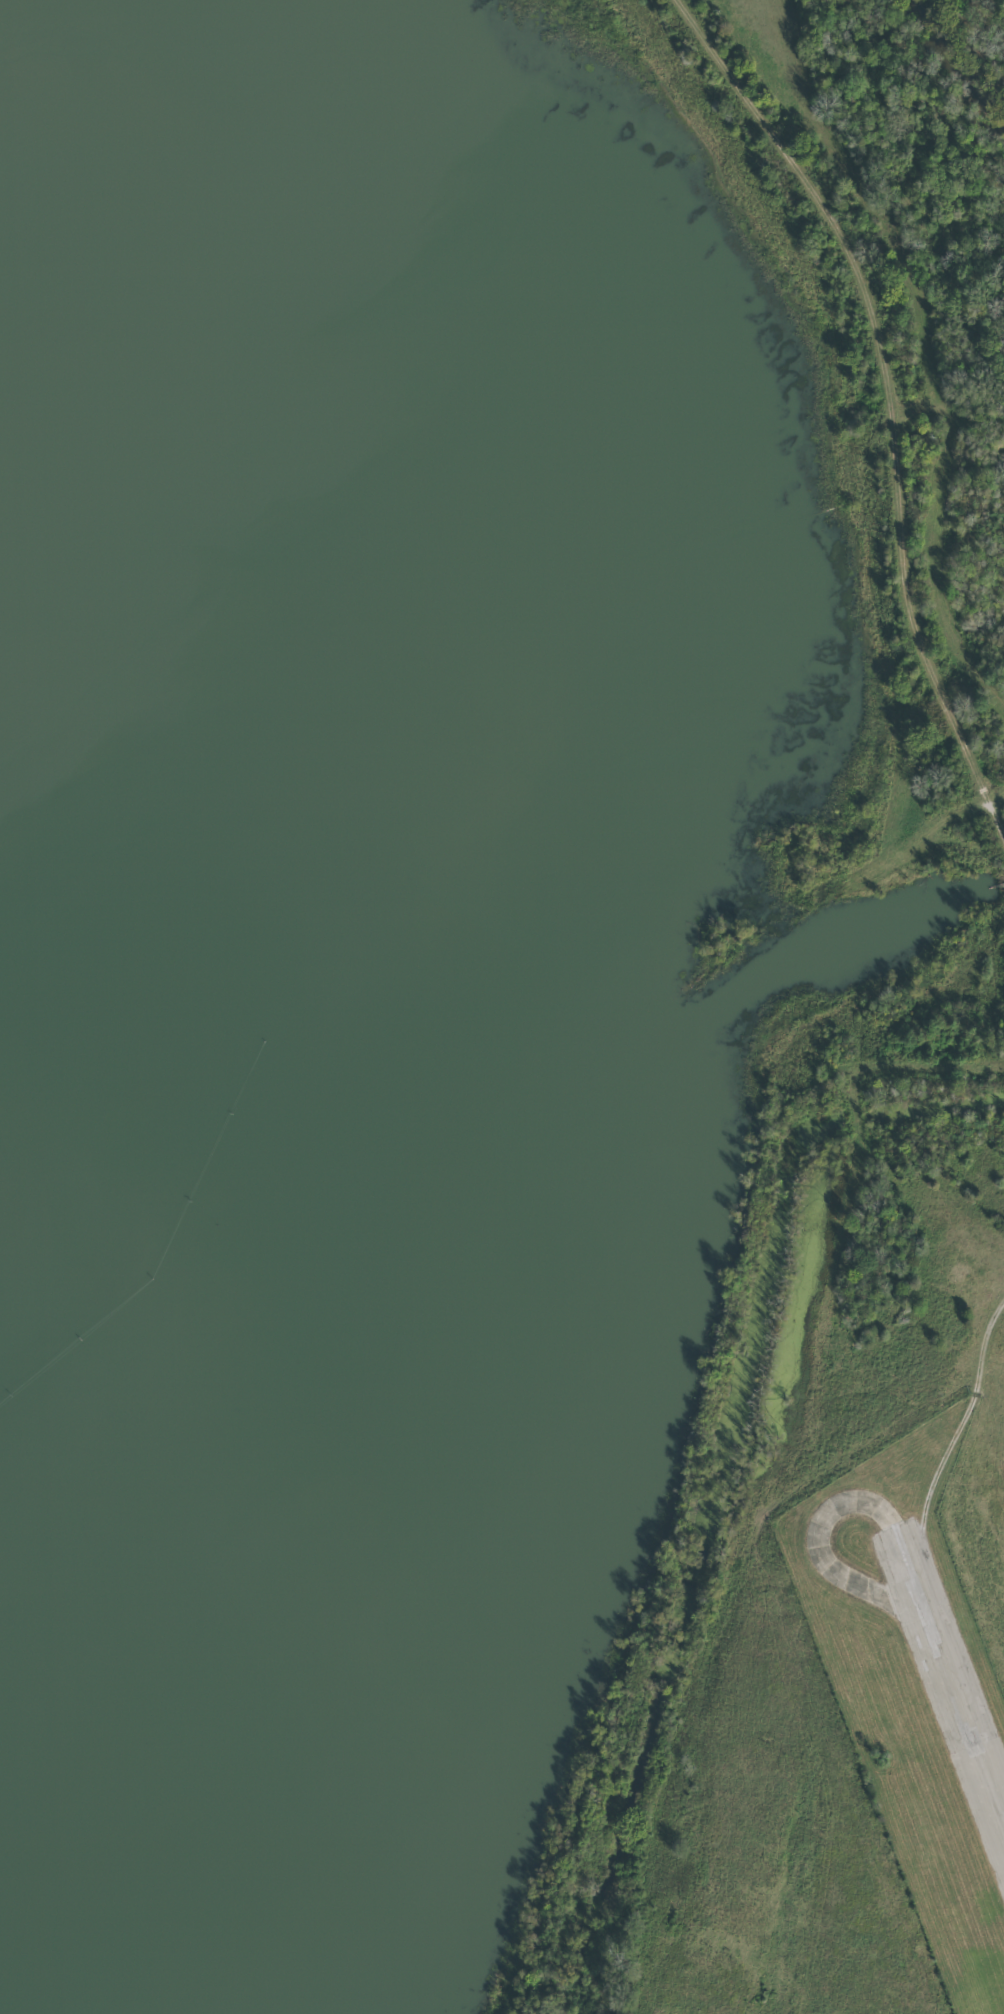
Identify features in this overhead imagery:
river: (969, 67)
airport taxiway: (821, 1556)
airport: (922, 1669)
airport runway: (948, 1676)

